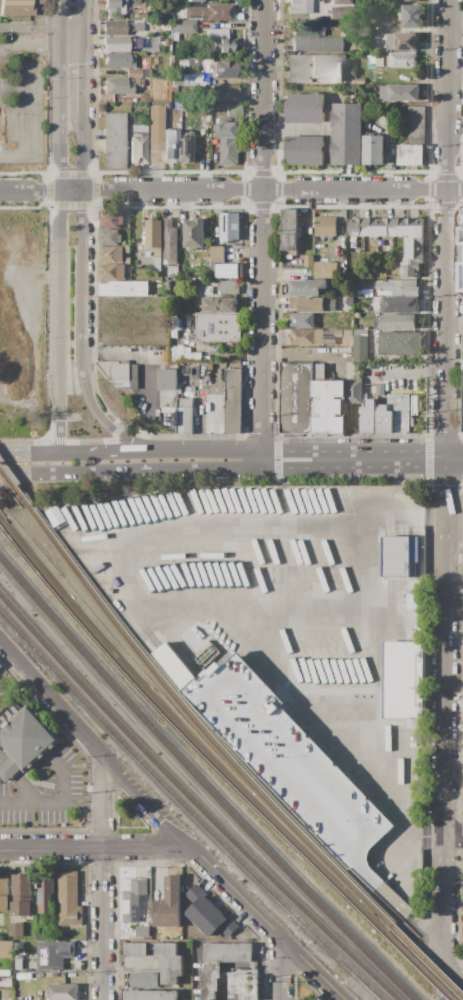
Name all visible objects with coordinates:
building: (129, 0)
building: (193, 0)
building: (341, 1)
building: (408, 1)
building: (299, 6)
building: (18, 7)
building: (114, 9)
building: (216, 12)
building: (339, 12)
building: (412, 16)
road: (41, 26)
building: (121, 26)
building: (183, 28)
building: (305, 28)
building: (216, 33)
building: (402, 41)
building: (166, 42)
road: (40, 43)
building: (146, 43)
building: (120, 44)
building: (316, 44)
building: (222, 45)
building: (360, 47)
building: (393, 60)
building: (122, 62)
building: (193, 62)
building: (223, 69)
building: (314, 69)
building: (178, 80)
building: (157, 81)
building: (360, 81)
building: (136, 82)
building: (144, 82)
building: (117, 86)
road: (12, 88)
building: (224, 93)
building: (400, 93)
building: (152, 96)
building: (107, 97)
building: (304, 109)
building: (234, 112)
road: (25, 122)
building: (415, 122)
building: (367, 126)
building: (155, 134)
building: (346, 134)
building: (114, 140)
building: (227, 140)
building: (138, 143)
building: (170, 146)
building: (187, 147)
building: (304, 150)
building: (373, 150)
building: (409, 155)
road: (24, 172)
road: (68, 173)
road: (48, 186)
road: (41, 189)
road: (95, 189)
road: (273, 191)
road: (70, 205)
road: (35, 206)
building: (110, 219)
road: (59, 225)
building: (325, 227)
building: (359, 227)
building: (229, 228)
building: (385, 228)
building: (411, 228)
road: (446, 230)
building: (289, 232)
building: (194, 233)
road: (263, 235)
building: (109, 237)
building: (154, 241)
road: (84, 242)
building: (169, 243)
building: (413, 249)
building: (126, 250)
building: (217, 254)
building: (111, 255)
building: (127, 260)
building: (308, 262)
building: (395, 269)
building: (411, 269)
building: (325, 270)
building: (226, 271)
building: (111, 272)
building: (175, 278)
building: (364, 285)
building: (229, 288)
building: (306, 288)
building: (397, 288)
building: (124, 289)
building: (349, 301)
building: (313, 304)
building: (217, 305)
building: (399, 305)
road: (461, 320)
building: (302, 321)
building: (395, 322)
road: (46, 328)
building: (201, 332)
building: (338, 333)
building: (347, 333)
building: (305, 337)
building: (399, 344)
building: (360, 346)
building: (230, 366)
building: (209, 367)
building: (120, 374)
road: (409, 374)
building: (167, 380)
building: (354, 391)
building: (296, 398)
building: (233, 401)
building: (328, 403)
building: (402, 412)
building: (184, 416)
building: (368, 417)
building: (384, 420)
road: (114, 431)
road: (57, 441)
road: (162, 452)
road: (428, 458)
road: (383, 461)
road: (454, 461)
road: (195, 470)
road: (291, 470)
road: (65, 473)
railway: (15, 487)
building: (54, 516)
road: (378, 516)
road: (433, 516)
road: (134, 539)
road: (454, 554)
building: (397, 557)
building: (413, 601)
building: (418, 634)
road: (445, 651)
building: (0, 665)
building: (173, 667)
building: (404, 680)
railway: (198, 728)
building: (462, 734)
railway: (184, 735)
building: (24, 741)
building: (462, 763)
building: (295, 768)
railway: (201, 784)
road: (55, 790)
road: (402, 792)
road: (103, 801)
railway: (193, 803)
railway: (186, 810)
road: (167, 824)
road: (454, 836)
road: (432, 841)
road: (95, 846)
building: (4, 893)
building: (46, 894)
building: (21, 895)
building: (69, 899)
building: (134, 900)
road: (446, 900)
building: (168, 905)
building: (208, 915)
road: (104, 923)
building: (15, 929)
building: (142, 931)
building: (129, 933)
building: (5, 945)
building: (19, 947)
building: (228, 952)
building: (53, 954)
building: (159, 959)
building: (18, 963)
railway: (427, 963)
road: (455, 964)
railway: (417, 967)
road: (281, 970)
building: (141, 980)
building: (211, 980)
building: (9, 983)
building: (243, 987)
building: (63, 992)
building: (150, 995)
building: (316, 999)
building: (319, 999)

